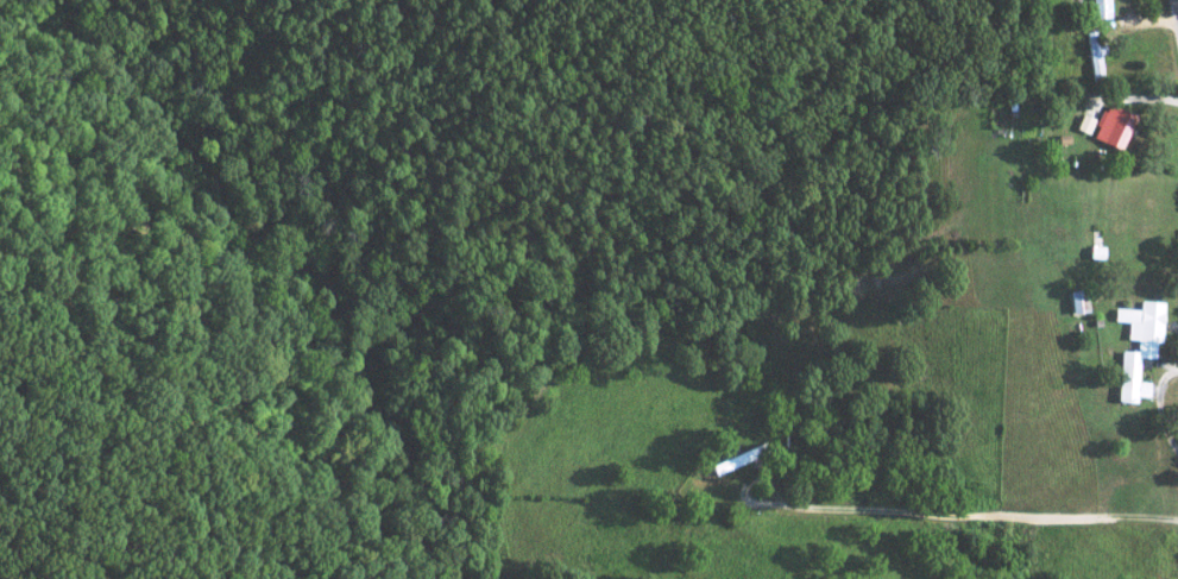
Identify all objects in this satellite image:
building: (1097, 8)
road: (1174, 14)
building: (1083, 124)
building: (1110, 126)
building: (1075, 302)
building: (1135, 346)
road: (737, 493)
road: (979, 521)

